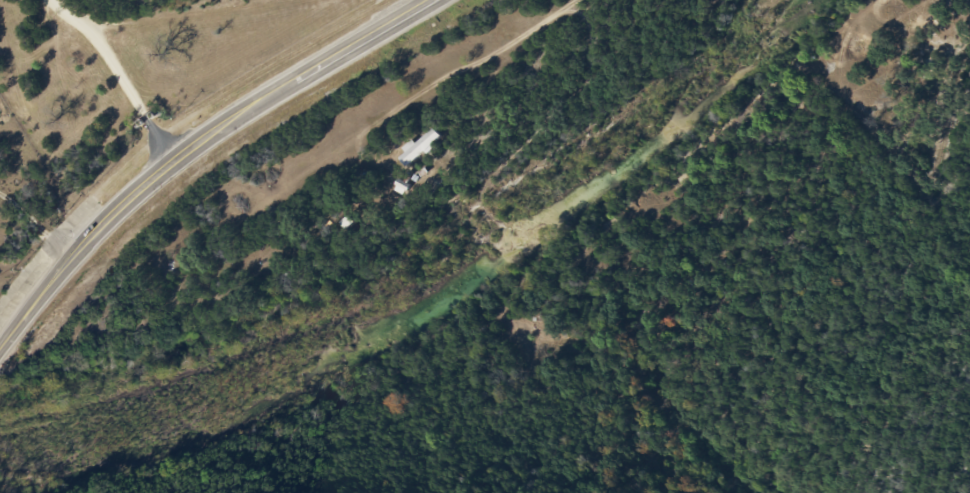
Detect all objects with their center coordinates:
road: (119, 76)
building: (425, 147)
road: (194, 148)
river: (446, 297)

